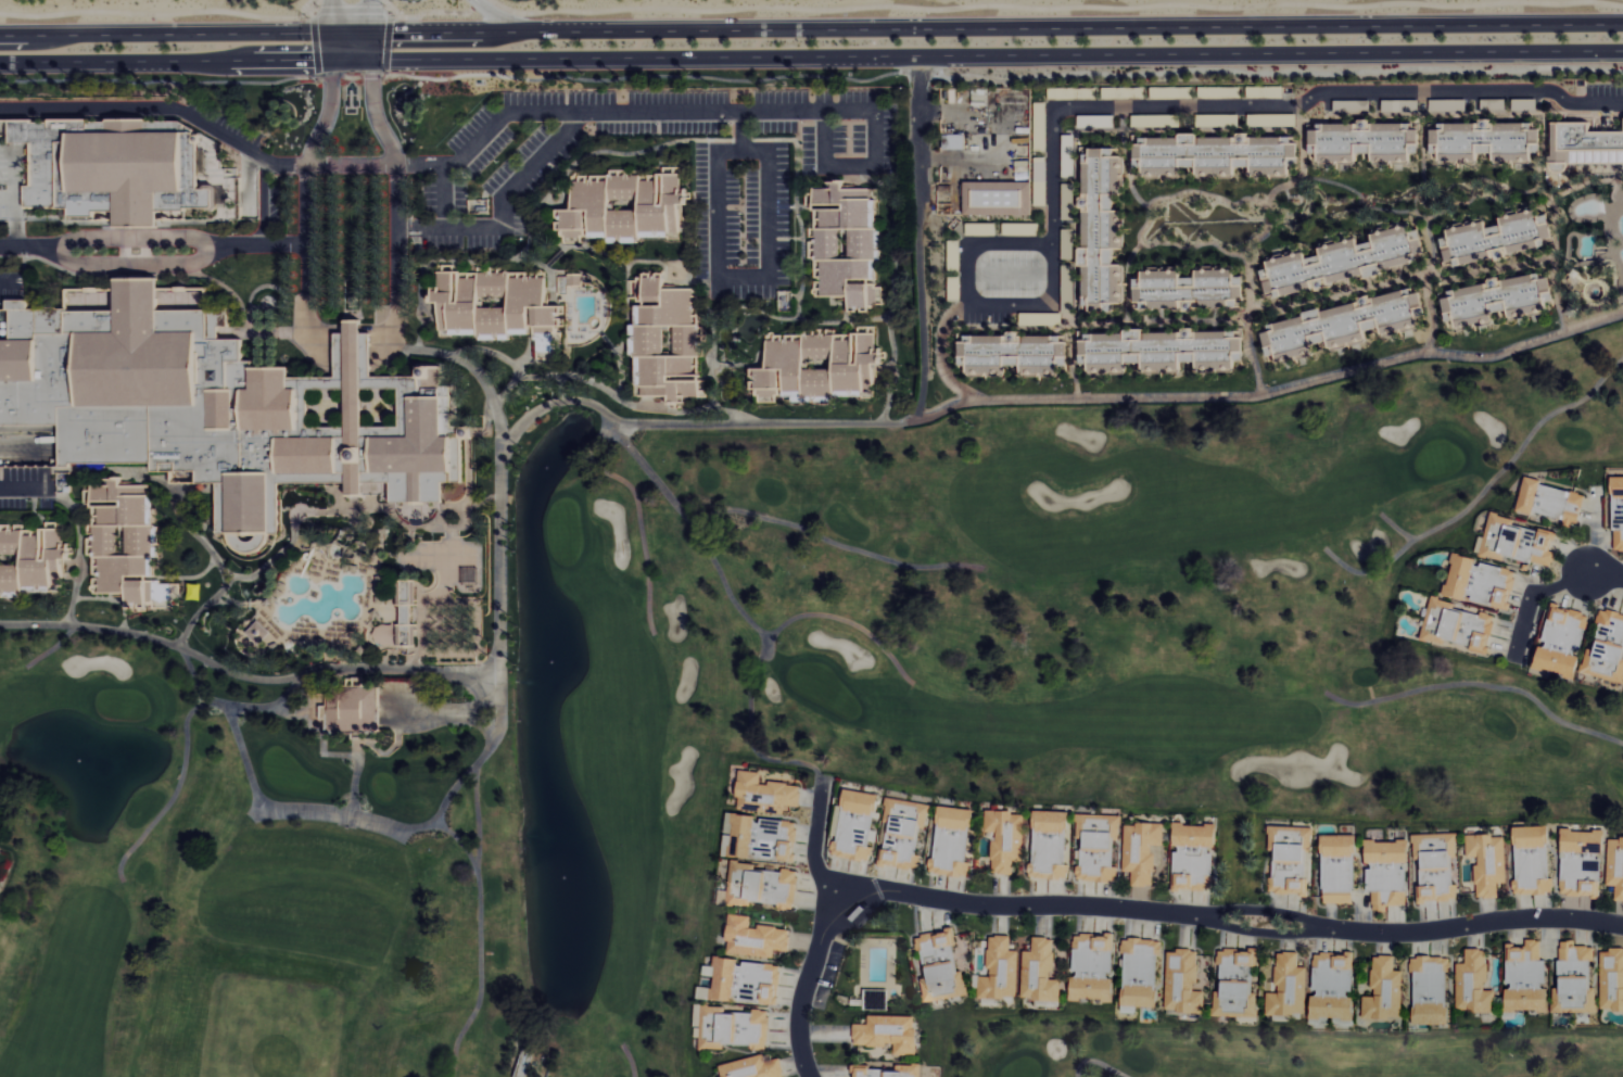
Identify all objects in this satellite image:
road: (499, 15)
road: (331, 22)
road: (373, 22)
road: (811, 29)
road: (811, 56)
building: (1265, 92)
building: (1399, 105)
road: (1138, 106)
building: (1352, 106)
building: (1041, 126)
road: (739, 129)
building: (954, 141)
building: (1364, 141)
building: (1485, 141)
building: (1585, 143)
building: (1215, 155)
road: (438, 164)
road: (848, 165)
building: (112, 167)
building: (1041, 181)
road: (441, 195)
building: (998, 198)
road: (264, 201)
building: (624, 204)
road: (502, 207)
building: (1068, 214)
building: (1102, 229)
building: (1496, 237)
road: (135, 238)
road: (920, 238)
road: (977, 241)
road: (259, 244)
building: (847, 244)
road: (27, 245)
building: (1342, 261)
road: (134, 262)
road: (739, 277)
road: (4, 281)
building: (1497, 300)
building: (497, 306)
building: (1028, 318)
building: (1344, 325)
building: (664, 338)
building: (1163, 351)
road: (352, 354)
building: (1014, 354)
road: (470, 367)
building: (218, 404)
road: (940, 408)
fountain: (543, 461)
road: (23, 487)
building: (1552, 502)
building: (1618, 510)
building: (1517, 542)
building: (31, 558)
road: (1605, 572)
building: (1481, 582)
road: (1532, 597)
building: (405, 611)
building: (1458, 625)
building: (257, 632)
building: (1563, 641)
building: (1607, 648)
road: (245, 666)
road: (243, 702)
building: (352, 709)
park: (755, 710)
fountain: (88, 750)
building: (766, 794)
road: (373, 819)
building: (857, 826)
building: (904, 832)
building: (761, 838)
building: (1007, 839)
building: (953, 841)
road: (814, 845)
building: (1052, 846)
building: (1100, 847)
building: (1143, 851)
building: (1195, 857)
building: (1292, 859)
building: (1533, 860)
building: (1488, 863)
building: (1582, 863)
building: (1437, 865)
building: (1615, 865)
building: (1340, 870)
building: (1387, 873)
building: (763, 886)
road: (1234, 921)
building: (757, 938)
building: (941, 965)
building: (1094, 967)
building: (1002, 971)
building: (1042, 972)
building: (1142, 973)
building: (1574, 977)
building: (1526, 978)
building: (1612, 979)
building: (744, 981)
building: (1184, 983)
building: (1474, 983)
building: (1238, 985)
building: (1290, 987)
building: (1334, 987)
road: (808, 989)
building: (1431, 989)
building: (1385, 991)
building: (885, 1000)
building: (733, 1028)
building: (890, 1032)
park: (1255, 1052)
building: (753, 1068)
building: (886, 1073)

